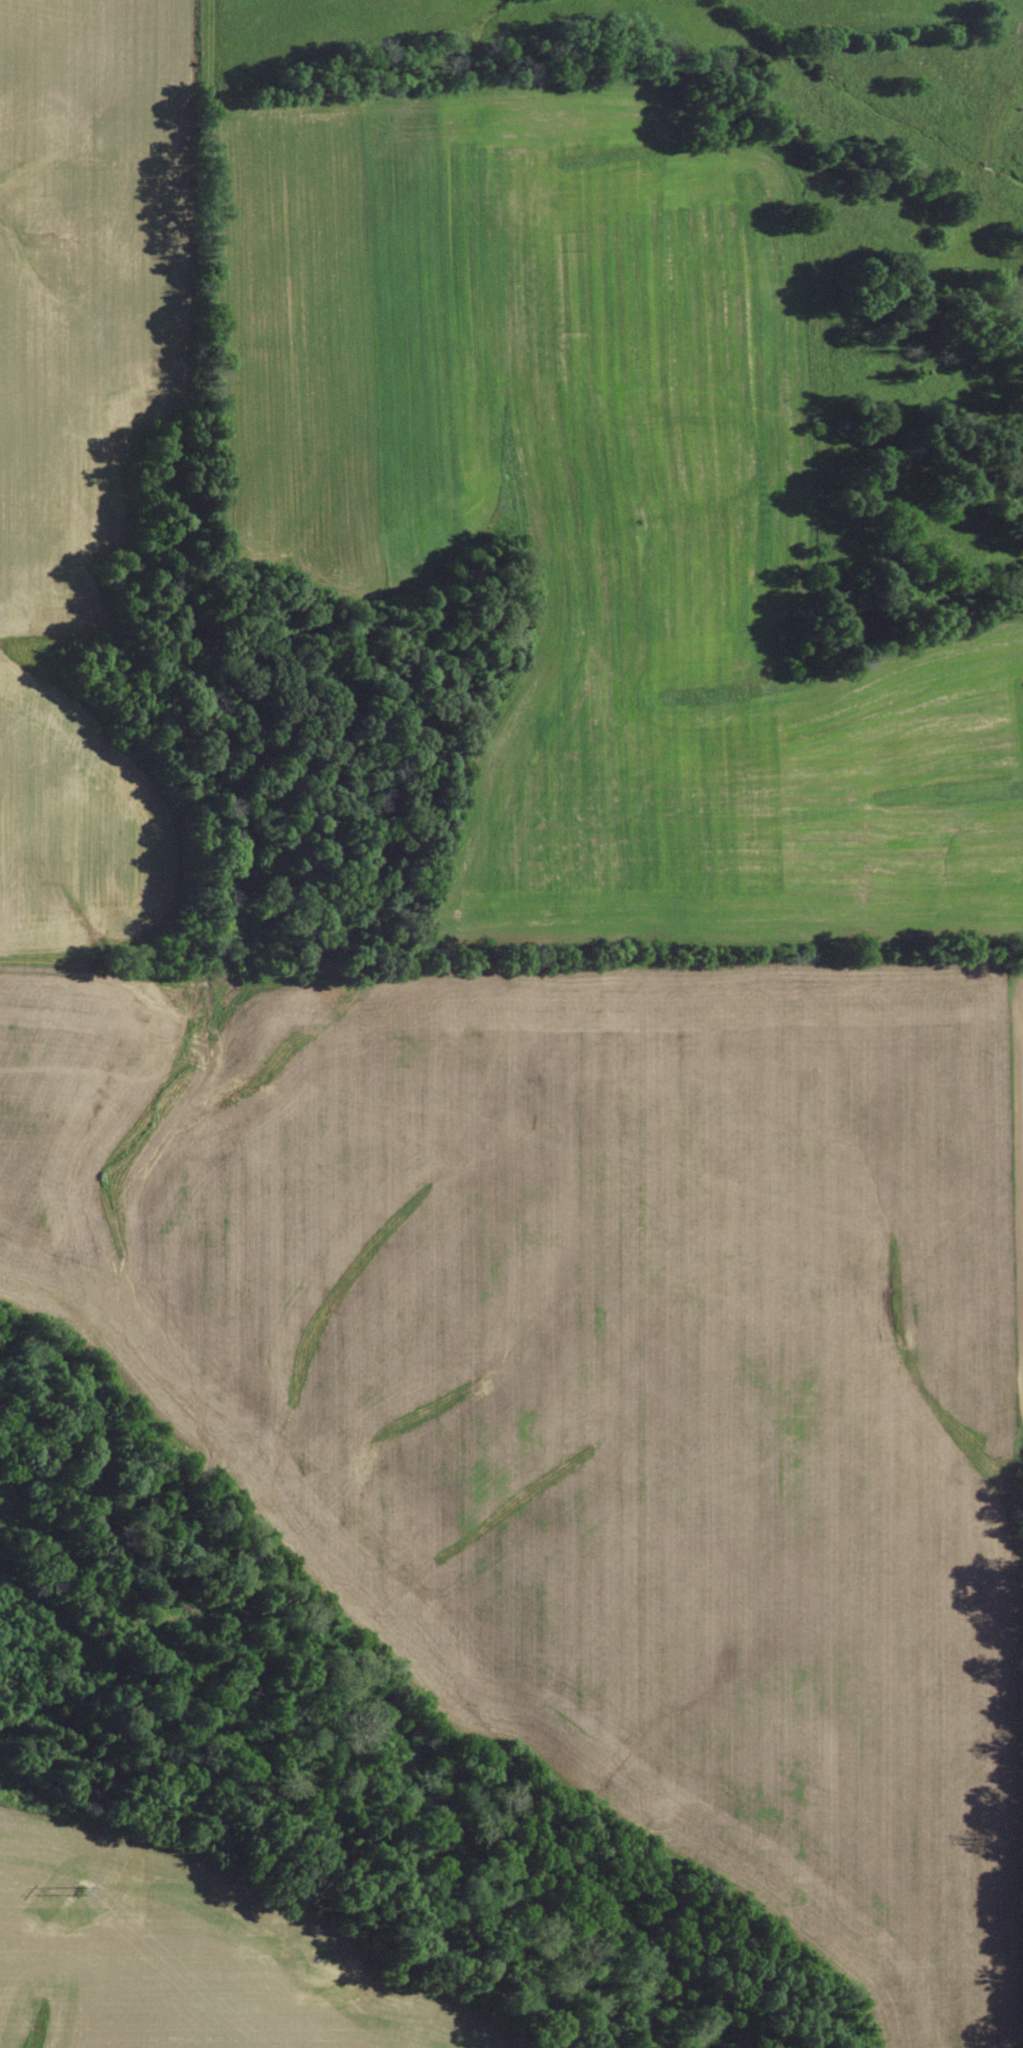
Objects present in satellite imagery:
power tower: (81, 1894)

